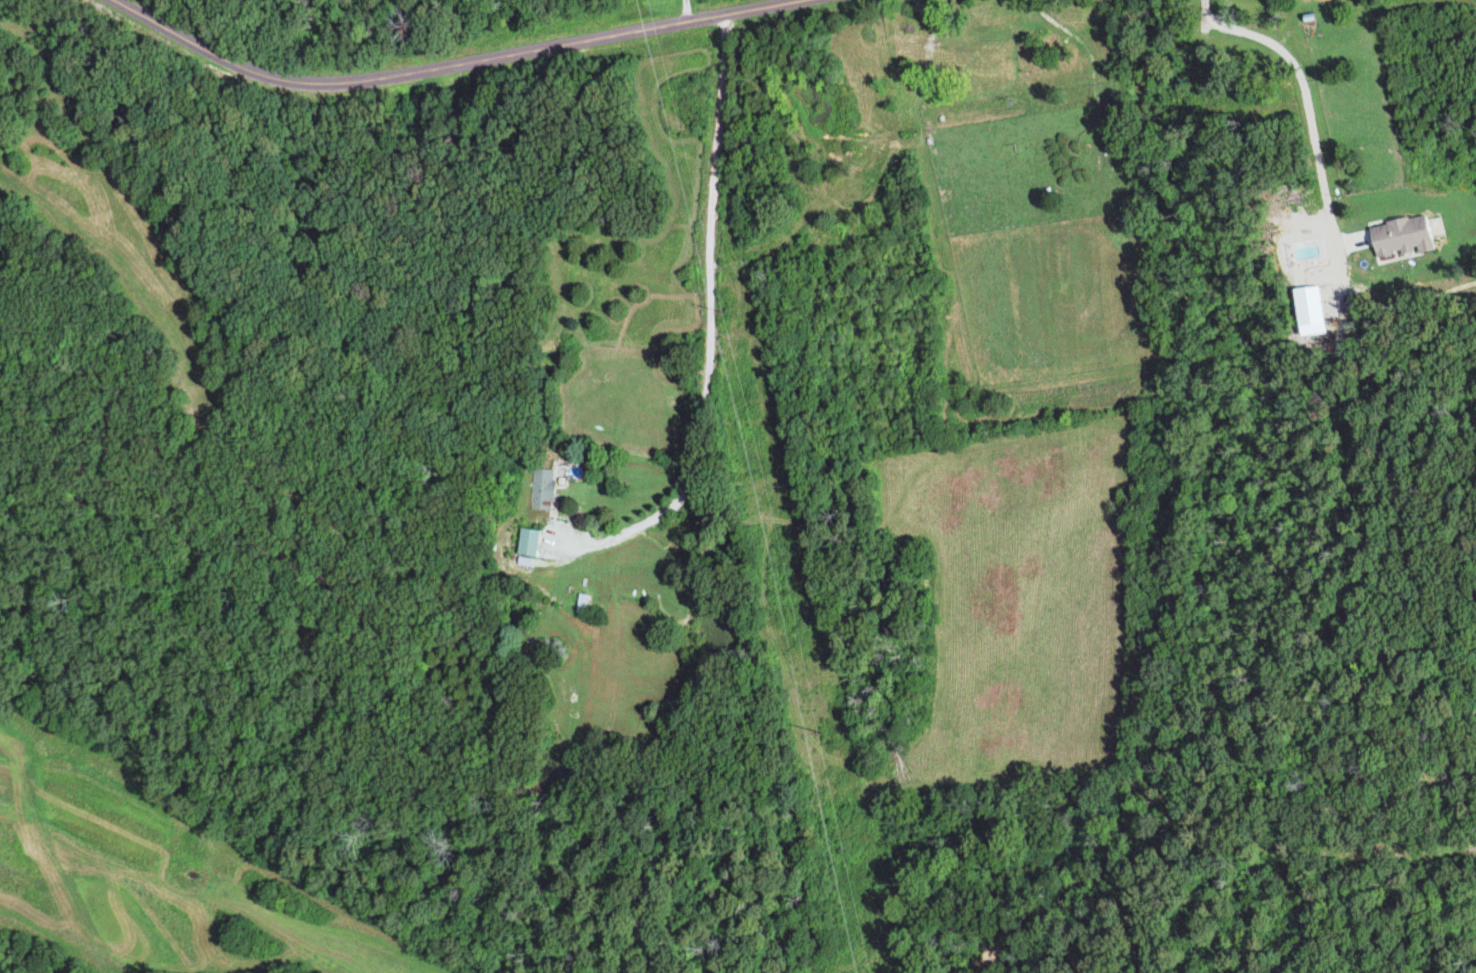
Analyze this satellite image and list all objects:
road: (684, 11)
building: (1304, 14)
building: (948, 59)
road: (452, 67)
road: (1297, 97)
road: (711, 326)
building: (546, 490)
building: (532, 544)
building: (585, 604)

